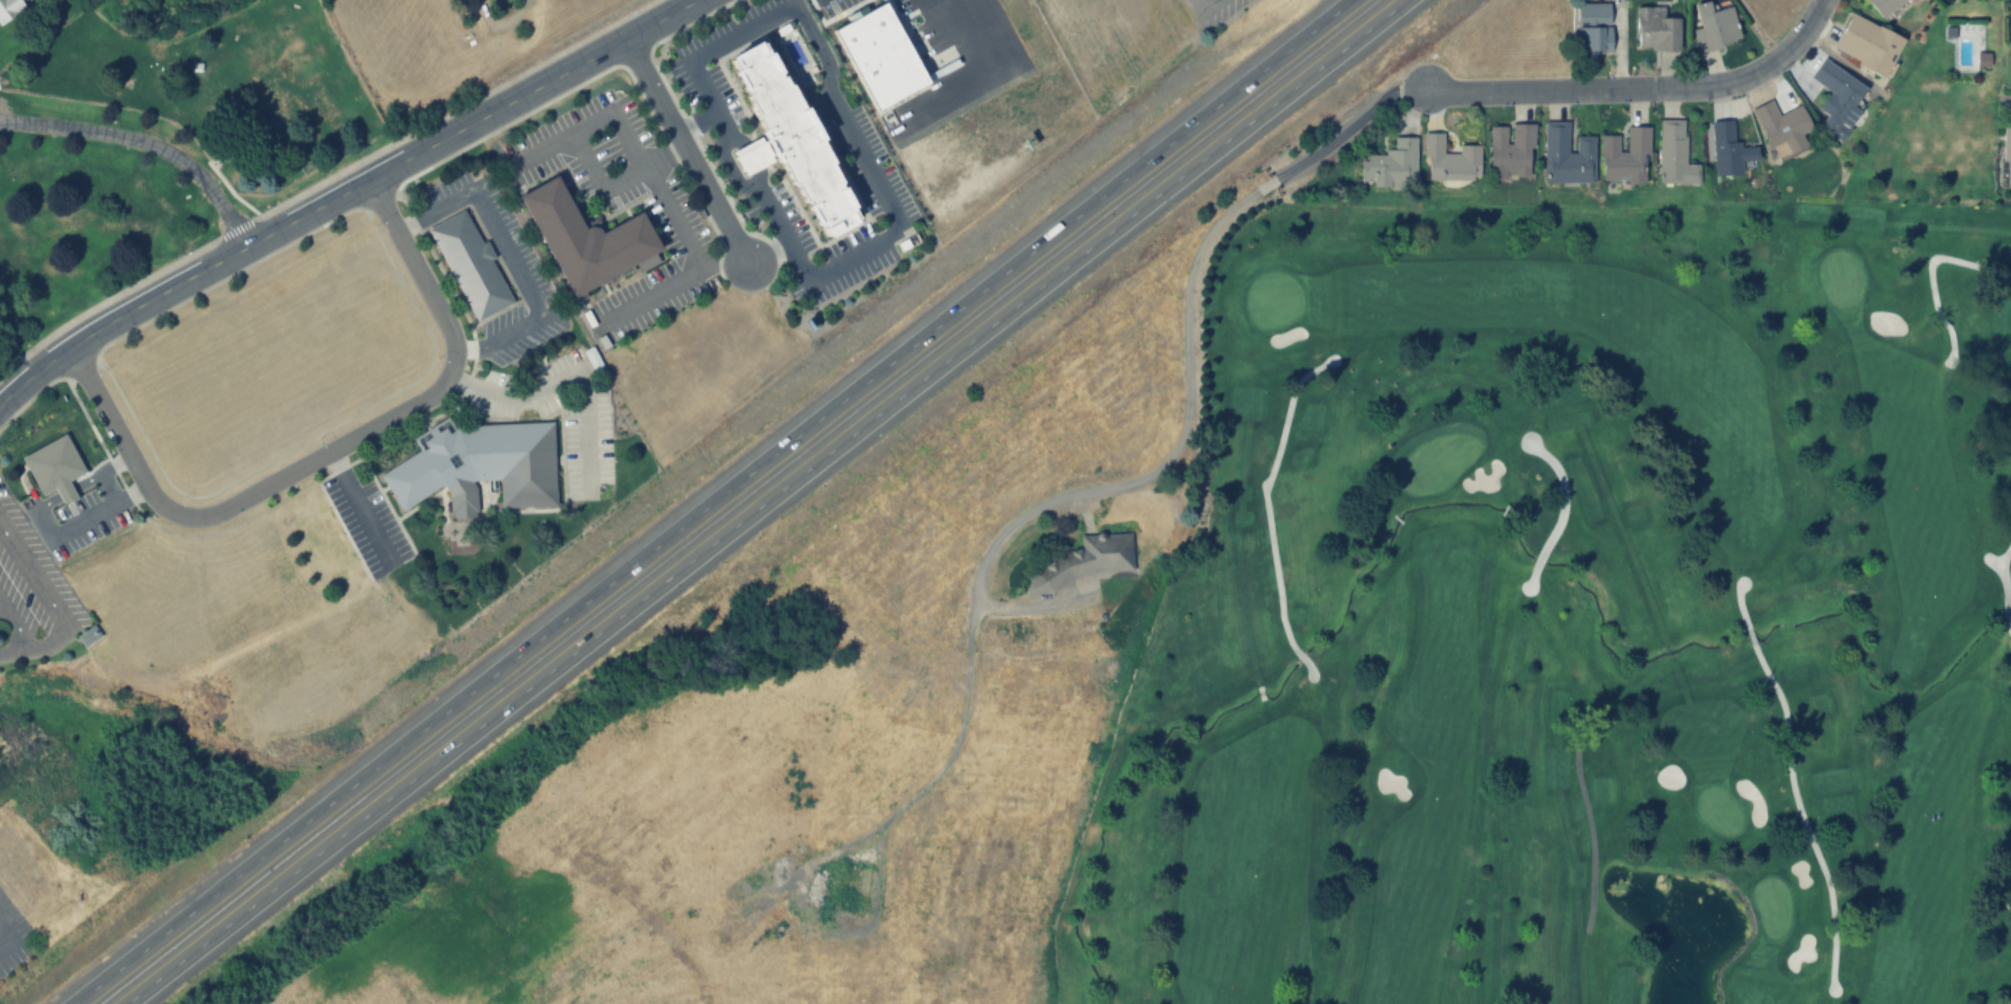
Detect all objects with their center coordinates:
building: (1884, 6)
building: (9, 8)
building: (1716, 26)
building: (1594, 27)
building: (1657, 30)
building: (1867, 43)
road: (1639, 86)
building: (1839, 97)
road: (452, 109)
road: (696, 121)
road: (844, 122)
building: (1783, 128)
building: (791, 139)
road: (680, 141)
road: (145, 142)
building: (1726, 148)
park: (159, 151)
road: (581, 151)
building: (1512, 151)
building: (2006, 152)
building: (1676, 154)
building: (1569, 156)
road: (751, 157)
building: (1627, 157)
building: (1452, 160)
building: (1393, 165)
road: (342, 193)
road: (235, 228)
building: (588, 240)
road: (779, 252)
road: (507, 257)
road: (768, 258)
road: (695, 263)
building: (470, 264)
road: (712, 266)
road: (105, 298)
road: (567, 376)
road: (325, 454)
building: (479, 465)
building: (55, 468)
road: (101, 472)
road: (65, 492)
road: (714, 502)
road: (765, 502)
road: (359, 508)
road: (73, 526)
building: (1098, 555)
road: (58, 615)
park: (1577, 618)
building: (88, 636)
building: (849, 888)
road: (11, 935)
building: (795, 949)

